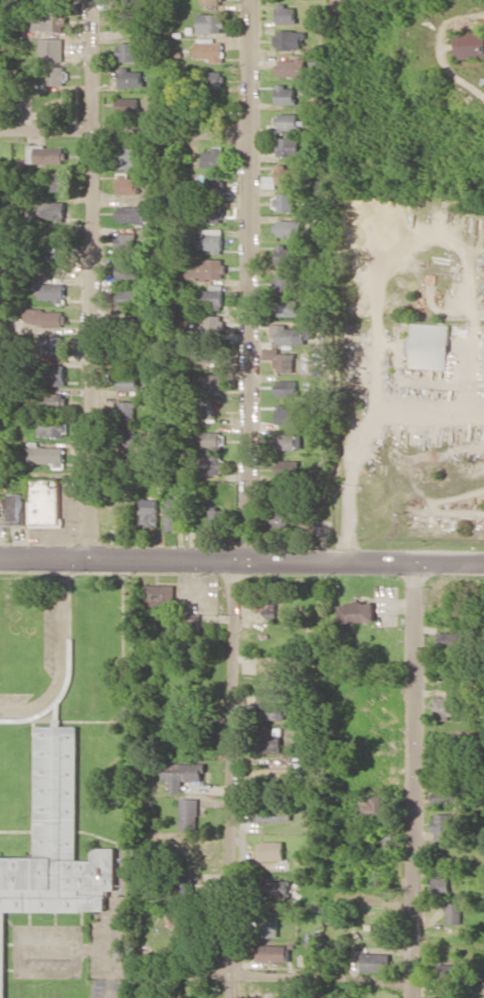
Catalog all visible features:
building: (42, 0)
building: (213, 2)
building: (135, 3)
building: (286, 13)
building: (50, 20)
building: (127, 21)
building: (212, 22)
building: (290, 39)
building: (470, 44)
building: (52, 49)
building: (210, 49)
building: (128, 51)
road: (444, 61)
building: (293, 67)
building: (57, 74)
building: (130, 77)
building: (215, 78)
building: (286, 94)
building: (128, 104)
building: (288, 121)
road: (124, 130)
building: (287, 146)
building: (47, 154)
building: (131, 157)
building: (213, 157)
building: (288, 174)
building: (55, 181)
building: (215, 182)
building: (127, 183)
building: (284, 201)
building: (53, 210)
building: (212, 213)
building: (138, 214)
building: (290, 227)
building: (127, 238)
building: (209, 239)
building: (285, 253)
building: (208, 268)
building: (126, 270)
building: (285, 282)
road: (93, 283)
road: (246, 283)
building: (51, 291)
building: (128, 297)
building: (212, 298)
building: (286, 307)
building: (45, 317)
building: (133, 323)
building: (212, 324)
building: (291, 334)
building: (52, 344)
building: (428, 345)
building: (284, 361)
building: (56, 374)
building: (128, 381)
building: (212, 382)
building: (286, 387)
building: (55, 400)
building: (126, 410)
building: (284, 414)
building: (52, 427)
building: (129, 437)
building: (211, 439)
building: (286, 441)
building: (46, 454)
building: (208, 464)
building: (285, 468)
building: (44, 502)
building: (17, 508)
building: (148, 512)
building: (171, 513)
building: (216, 517)
building: (277, 518)
road: (241, 567)
building: (157, 594)
building: (357, 612)
building: (451, 639)
road: (63, 659)
building: (268, 674)
building: (271, 693)
building: (446, 706)
building: (273, 709)
building: (272, 739)
building: (182, 774)
building: (275, 777)
road: (230, 782)
road: (415, 782)
building: (443, 793)
building: (372, 806)
building: (273, 812)
building: (190, 813)
building: (444, 826)
building: (55, 845)
building: (271, 850)
building: (440, 885)
building: (275, 889)
building: (183, 890)
building: (453, 912)
building: (268, 924)
building: (272, 952)
building: (374, 961)
building: (447, 971)
road: (240, 973)

